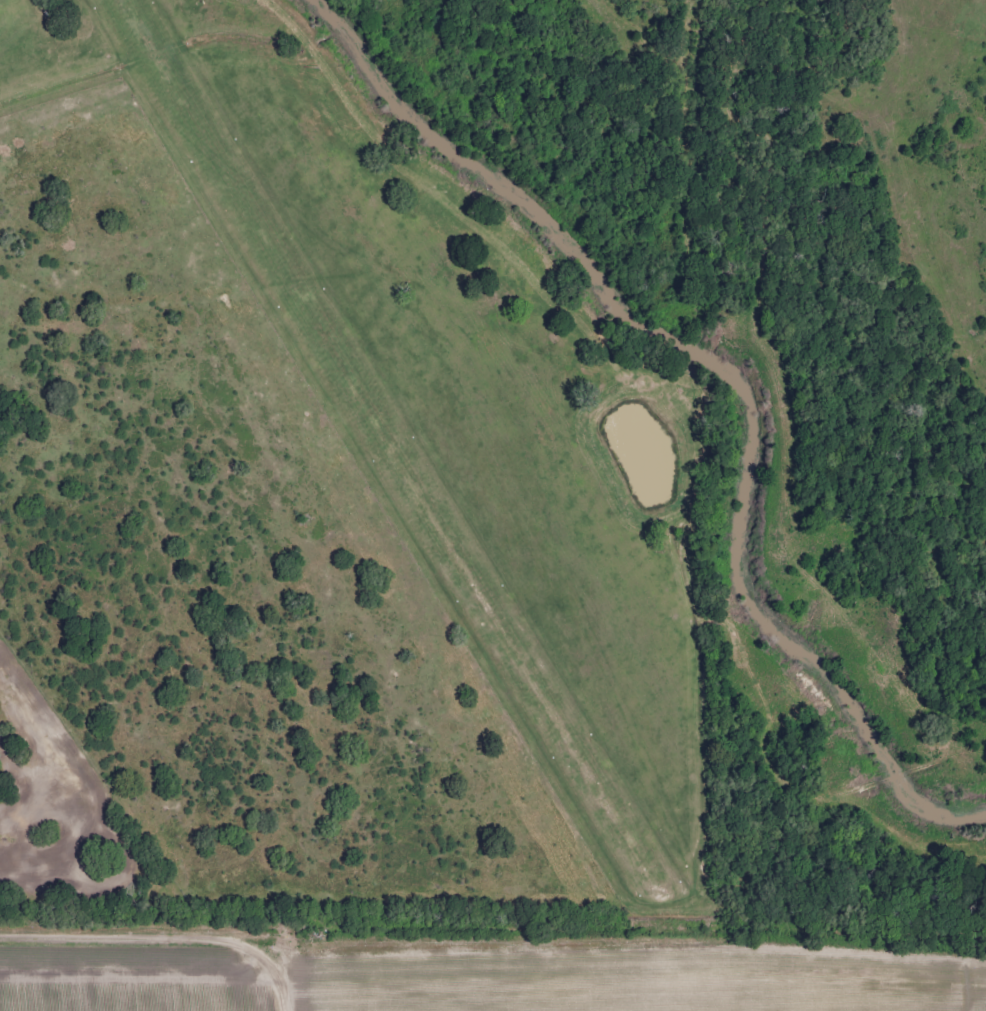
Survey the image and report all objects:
road: (14, 679)

